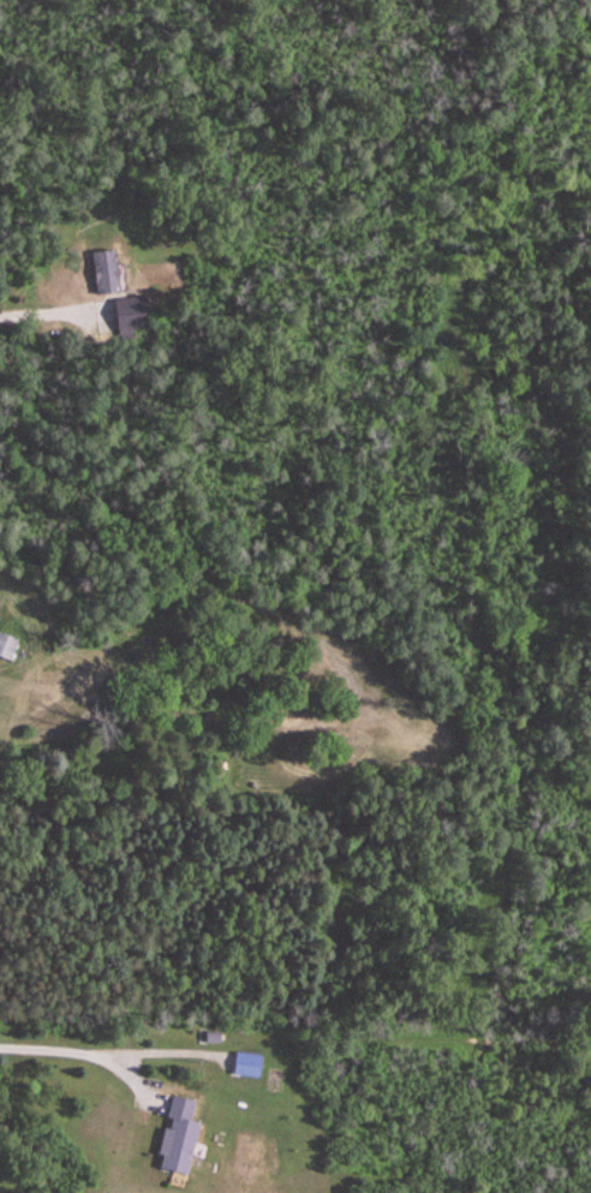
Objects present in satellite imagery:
building: (103, 269)
building: (125, 314)
road: (586, 322)
building: (6, 646)
road: (61, 1045)
building: (177, 1138)

